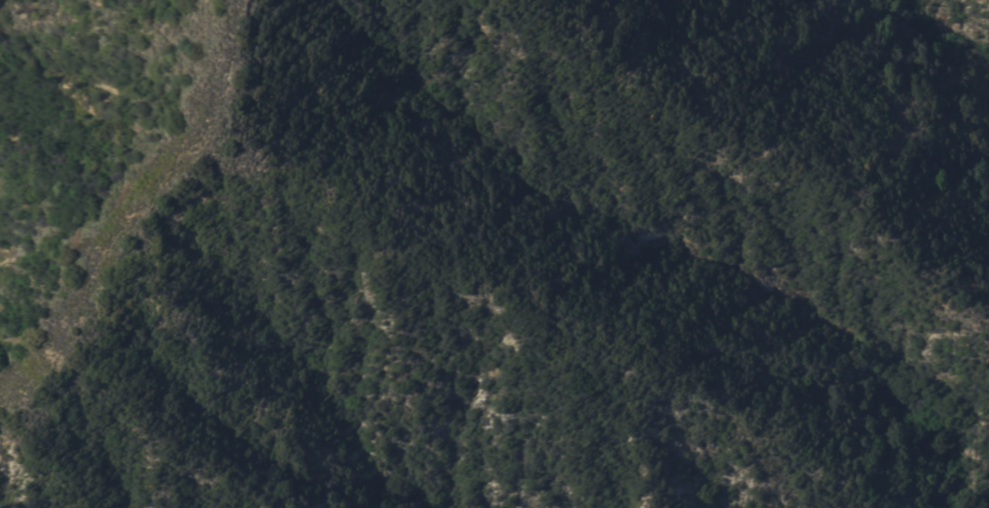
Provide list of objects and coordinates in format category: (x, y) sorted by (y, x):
road: (69, 168)
road: (144, 208)

